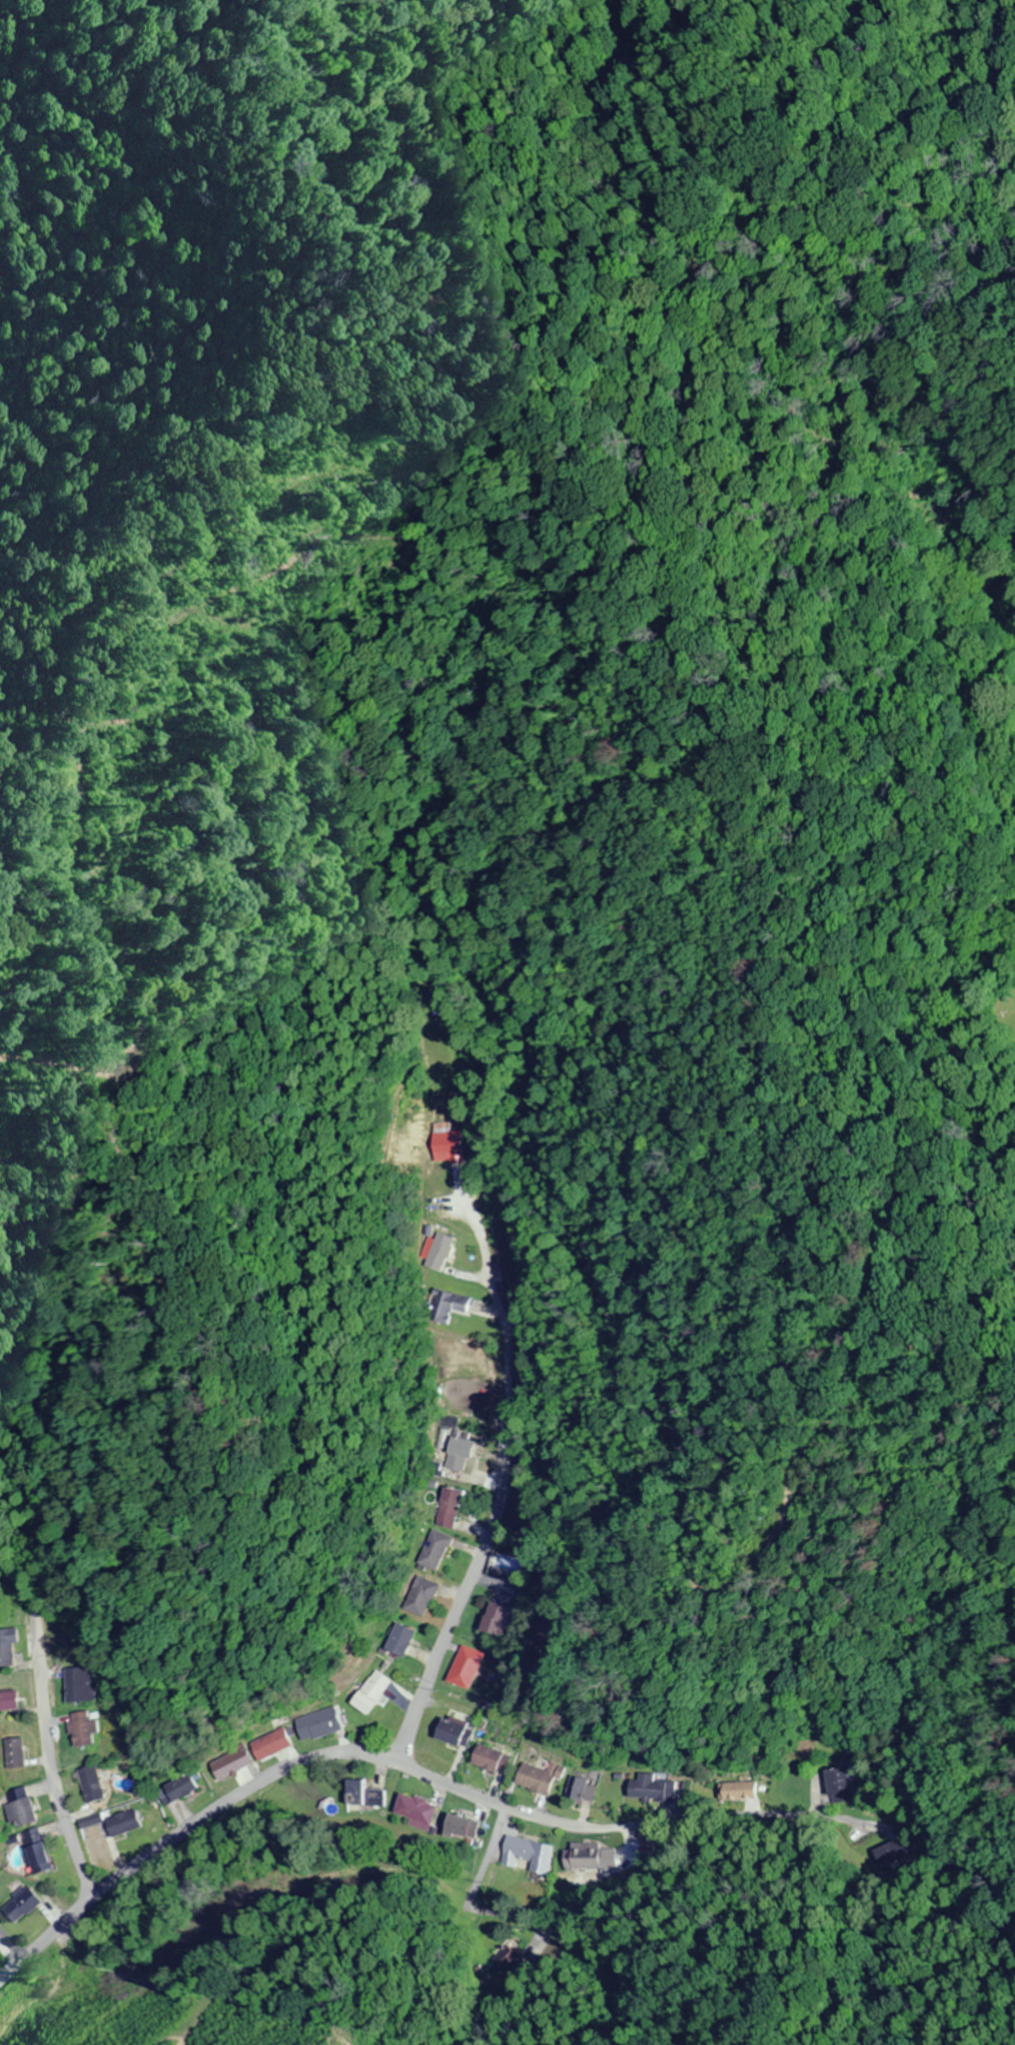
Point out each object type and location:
building: (446, 1309)
building: (454, 1461)
building: (451, 1505)
building: (434, 1551)
building: (496, 1621)
building: (403, 1641)
building: (7, 1652)
road: (430, 1660)
building: (463, 1668)
building: (76, 1685)
building: (373, 1693)
building: (318, 1725)
building: (81, 1730)
building: (454, 1732)
building: (271, 1744)
road: (364, 1755)
building: (14, 1759)
building: (490, 1759)
building: (230, 1764)
building: (538, 1779)
building: (839, 1782)
building: (90, 1785)
building: (182, 1788)
building: (573, 1788)
building: (651, 1790)
road: (56, 1794)
building: (362, 1800)
building: (20, 1808)
building: (413, 1812)
building: (123, 1824)
building: (457, 1832)
building: (36, 1853)
building: (525, 1856)
road: (488, 1858)
building: (580, 1859)
building: (21, 1905)
building: (1, 1941)

